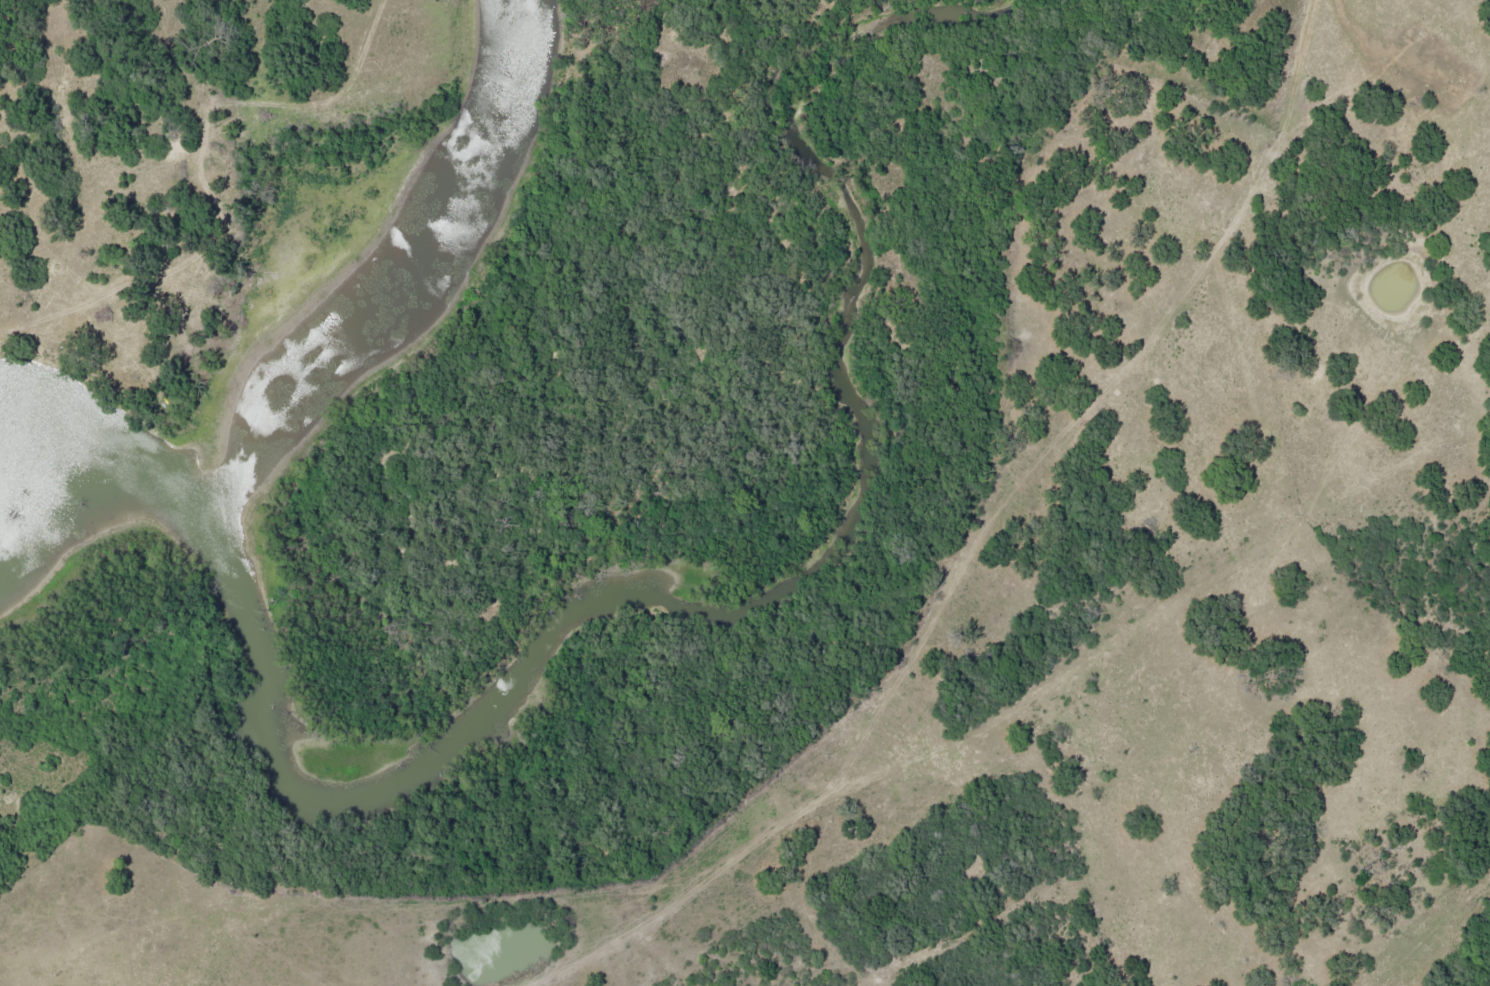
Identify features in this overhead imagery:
road: (970, 540)

